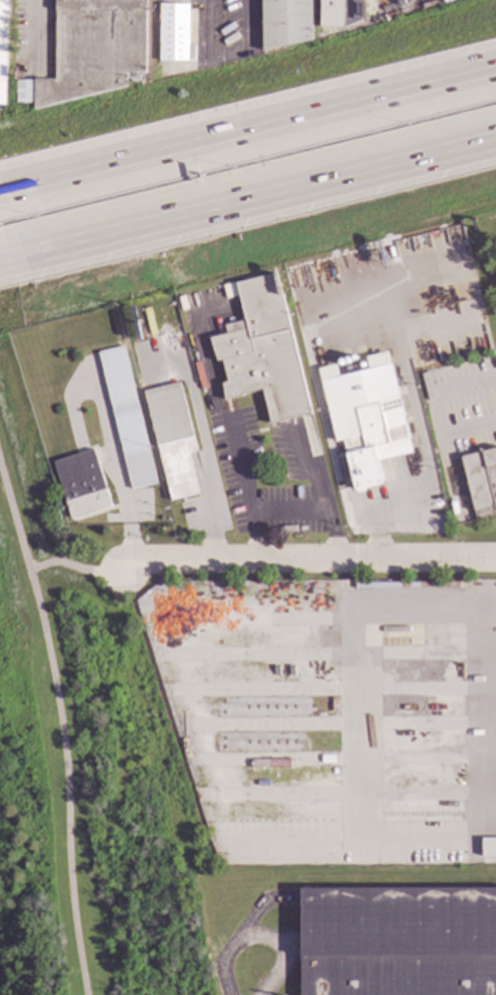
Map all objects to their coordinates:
building: (340, 12)
building: (285, 22)
building: (172, 32)
road: (33, 37)
building: (2, 46)
building: (93, 48)
road: (226, 50)
building: (134, 78)
building: (24, 91)
road: (248, 127)
road: (253, 200)
road: (5, 262)
building: (333, 265)
building: (262, 351)
road: (175, 365)
road: (315, 373)
building: (126, 417)
building: (366, 417)
road: (224, 418)
road: (418, 423)
building: (171, 437)
road: (209, 469)
building: (79, 474)
building: (481, 481)
road: (315, 509)
road: (307, 559)
road: (73, 566)
building: (405, 584)
road: (494, 607)
road: (60, 730)
park: (72, 770)
road: (356, 833)
road: (293, 841)
parking lot: (350, 843)
building: (488, 847)
road: (258, 938)
building: (398, 941)

